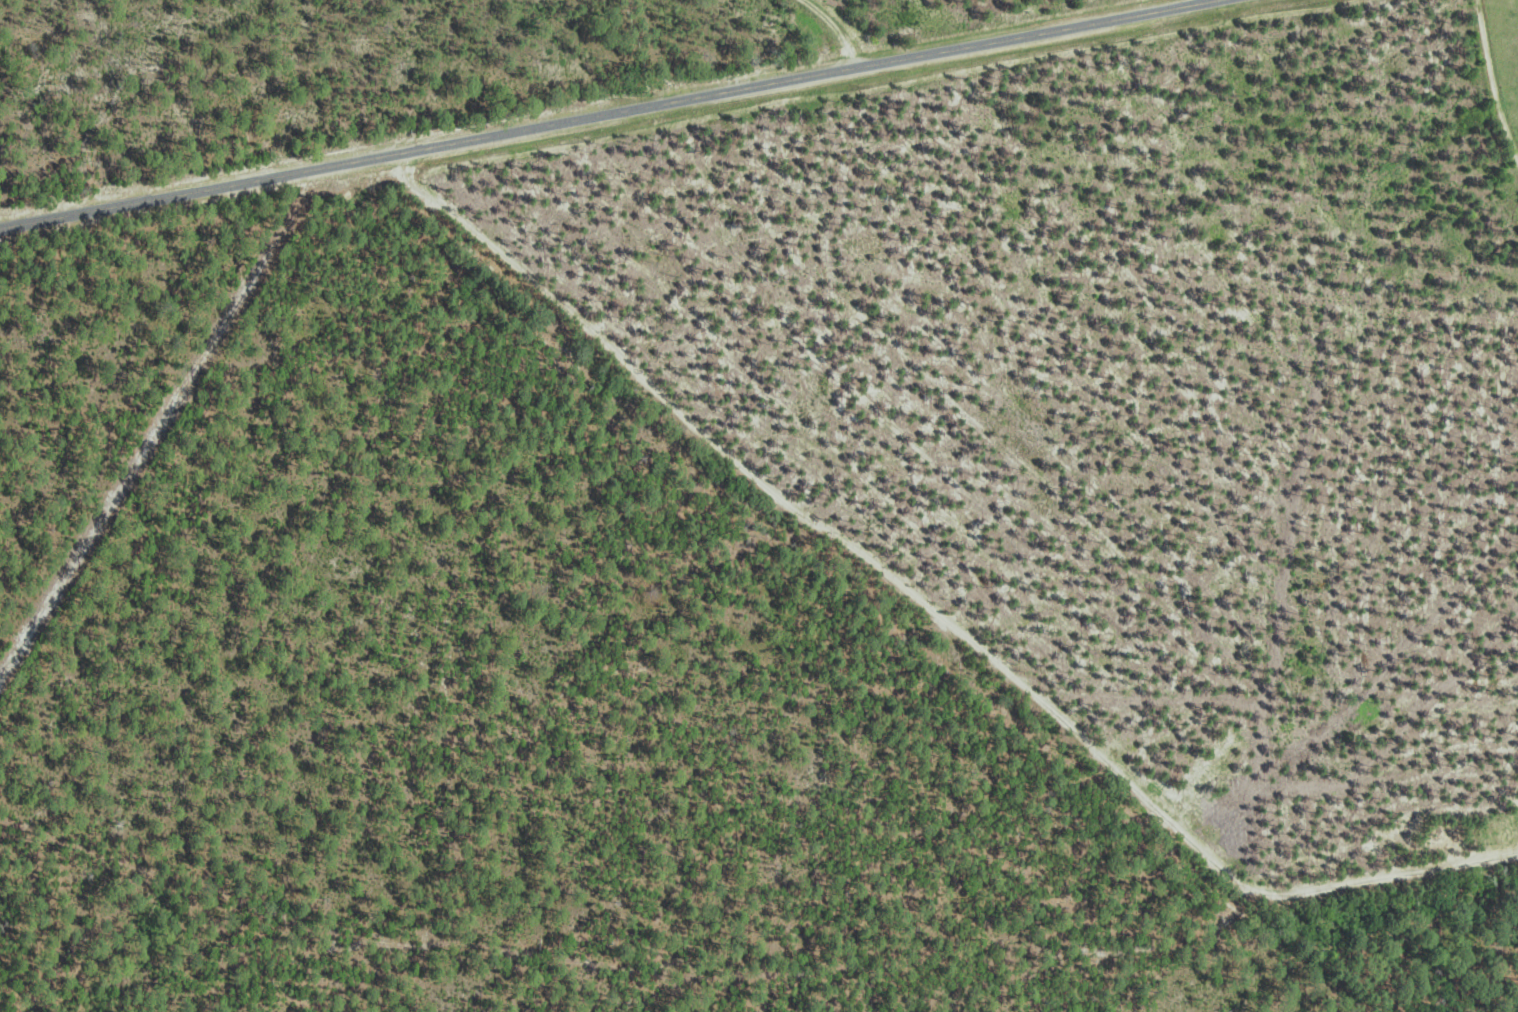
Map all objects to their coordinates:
road: (610, 115)

